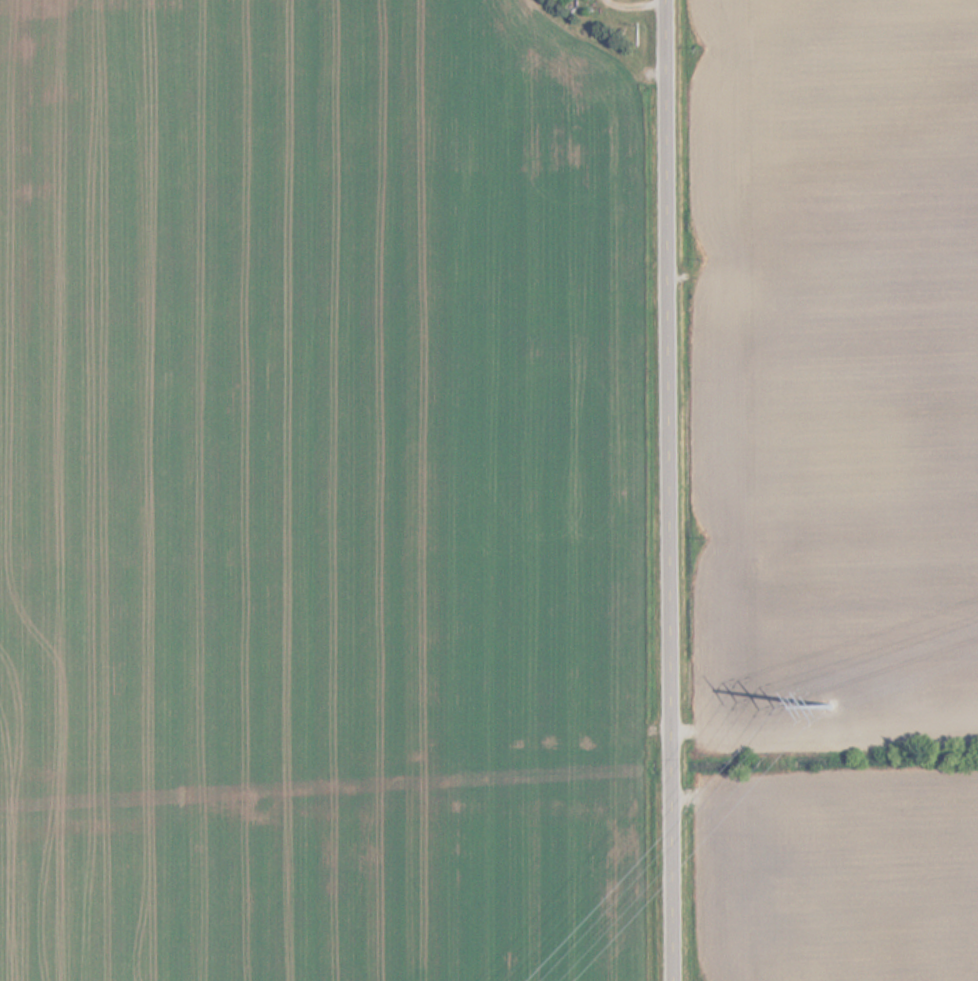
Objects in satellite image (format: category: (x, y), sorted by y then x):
road: (675, 490)
power tower: (828, 709)

